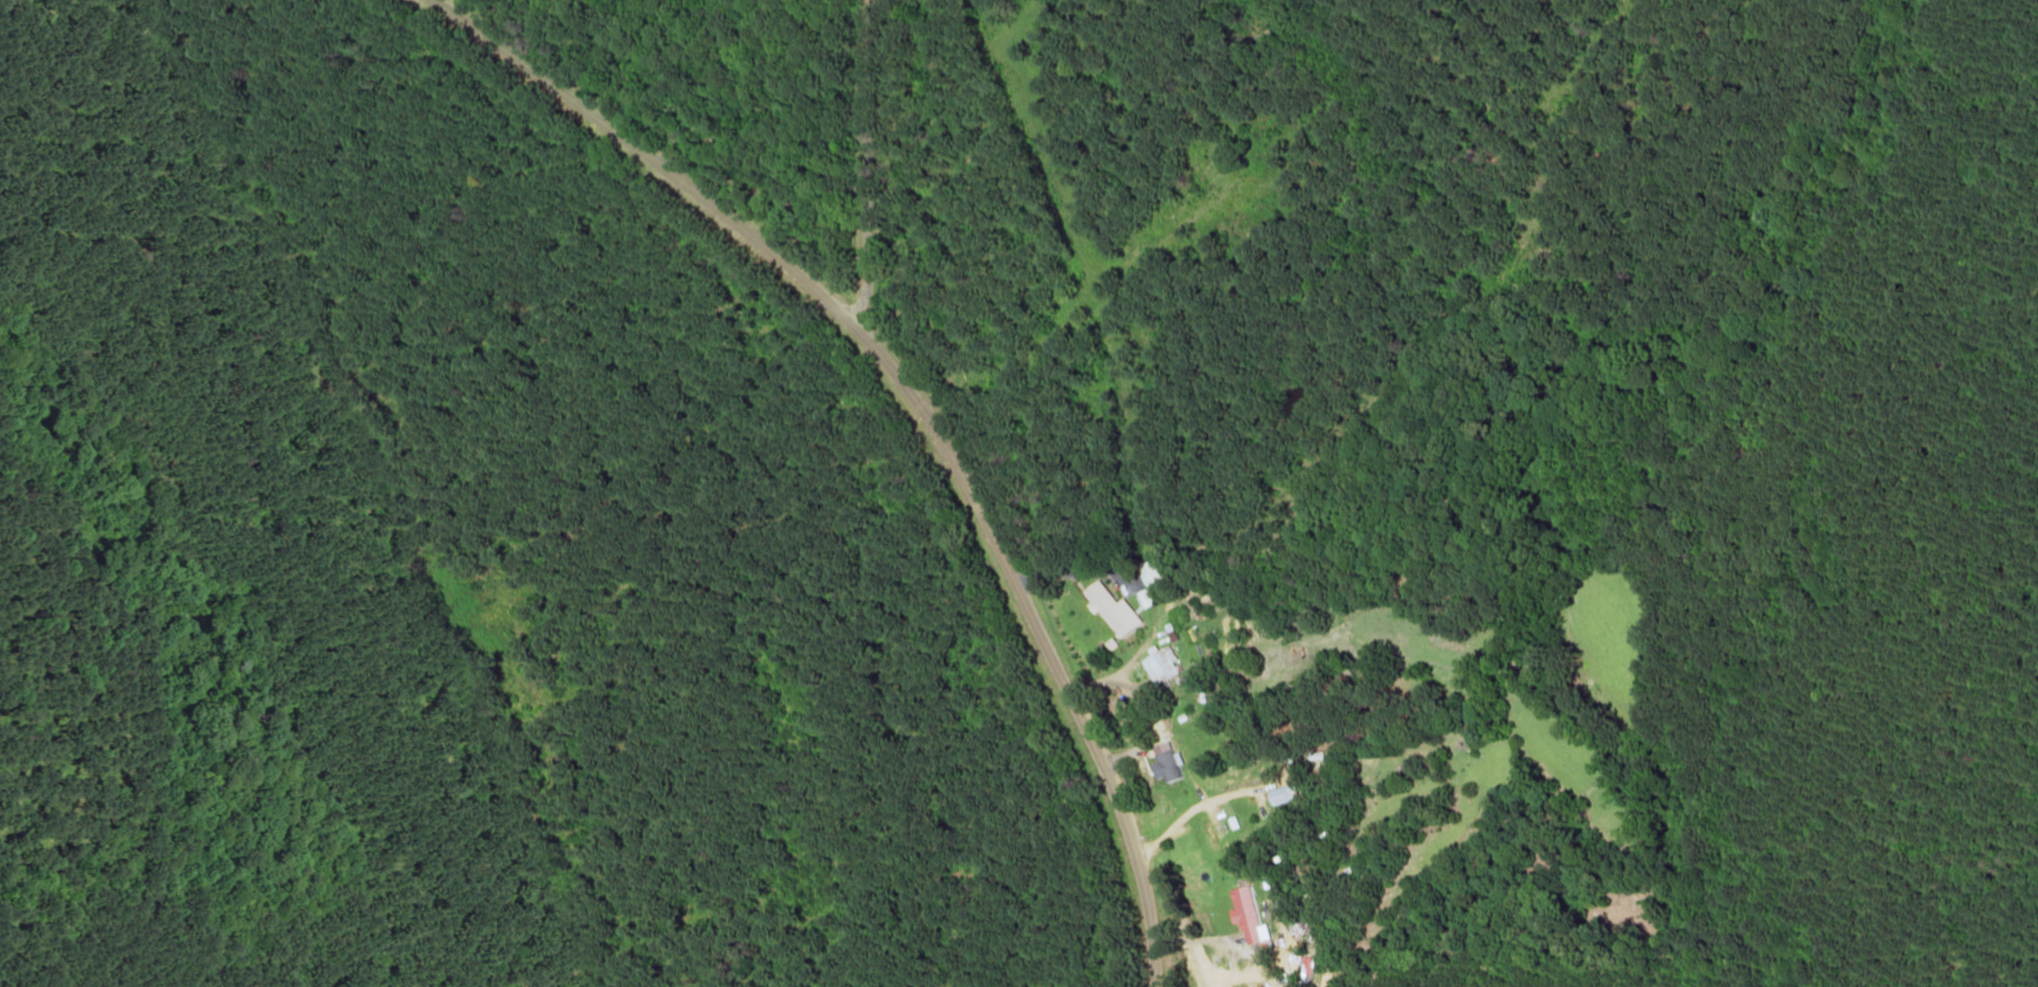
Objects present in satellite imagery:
road: (867, 166)
road: (919, 409)
building: (1152, 583)
building: (1115, 611)
building: (1163, 666)
building: (1168, 759)
building: (1281, 795)
building: (1248, 916)

